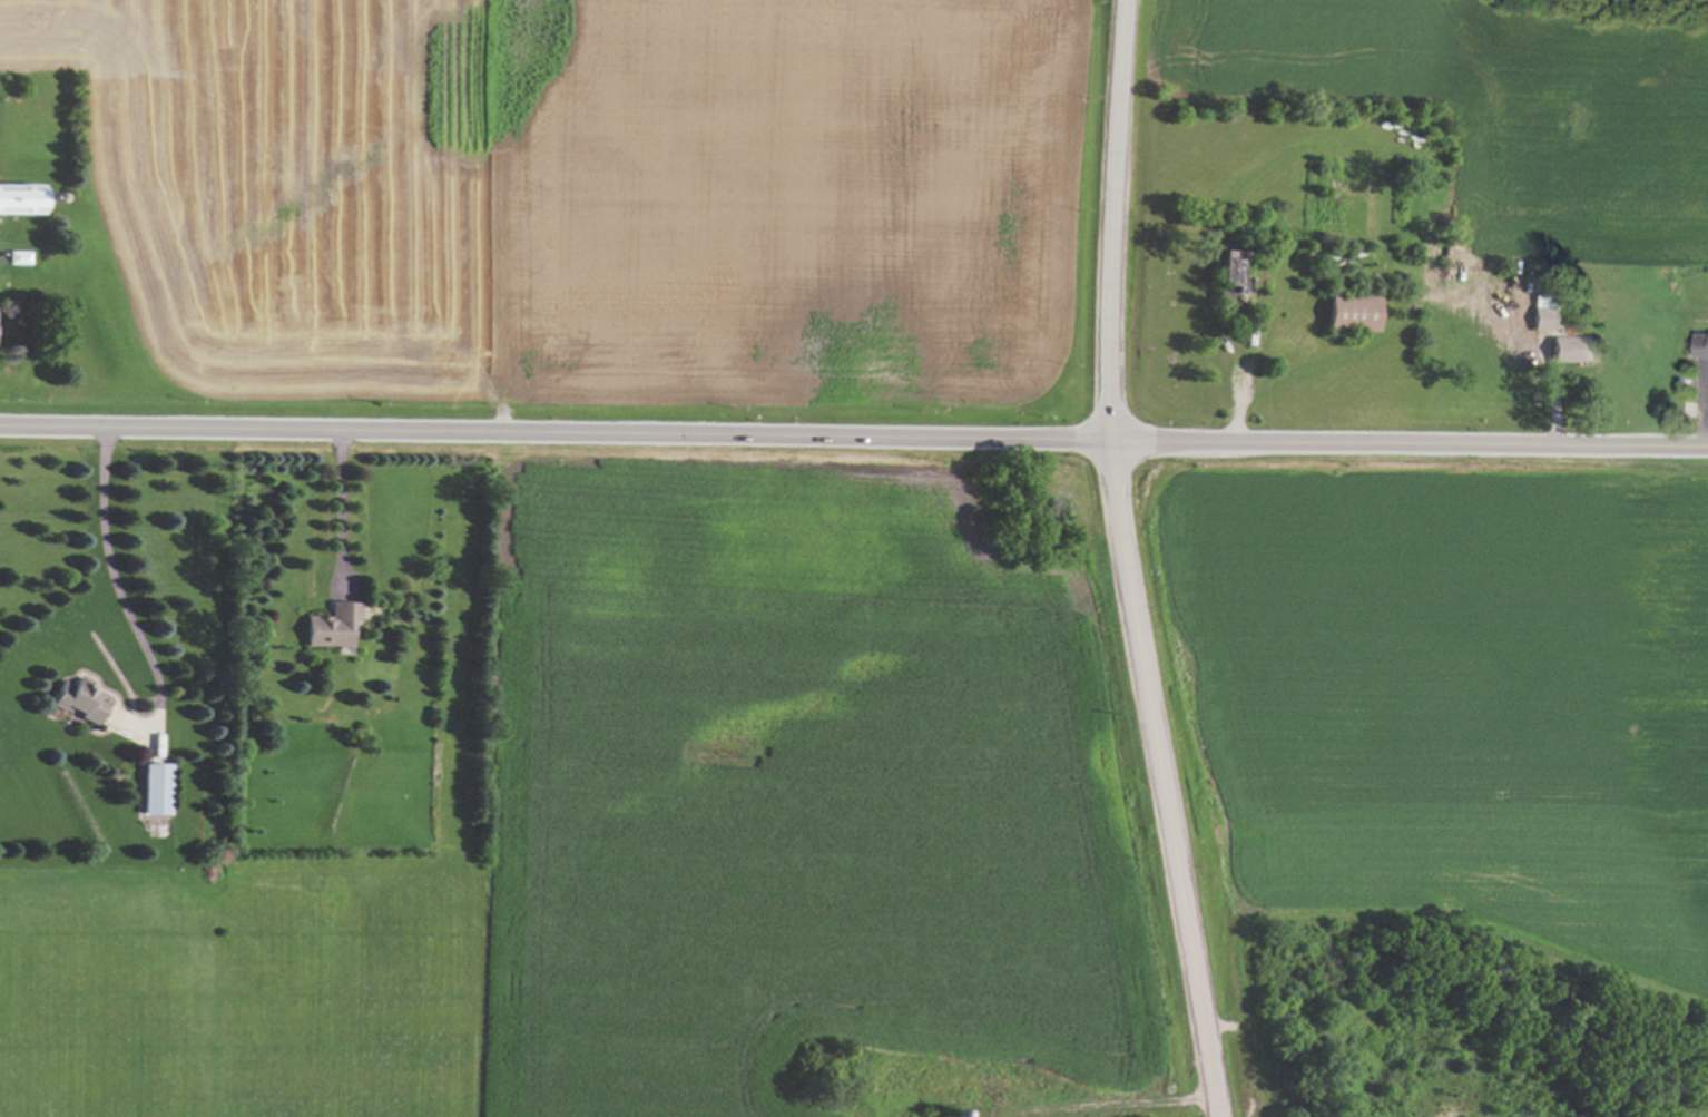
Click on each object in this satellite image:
crop: (587, 194)
building: (19, 198)
building: (1228, 270)
building: (1349, 312)
building: (1701, 346)
building: (1570, 349)
road: (1548, 381)
road: (853, 437)
road: (341, 506)
road: (1120, 561)
road: (122, 606)
building: (330, 625)
building: (78, 699)
crop: (1451, 699)
building: (153, 788)

